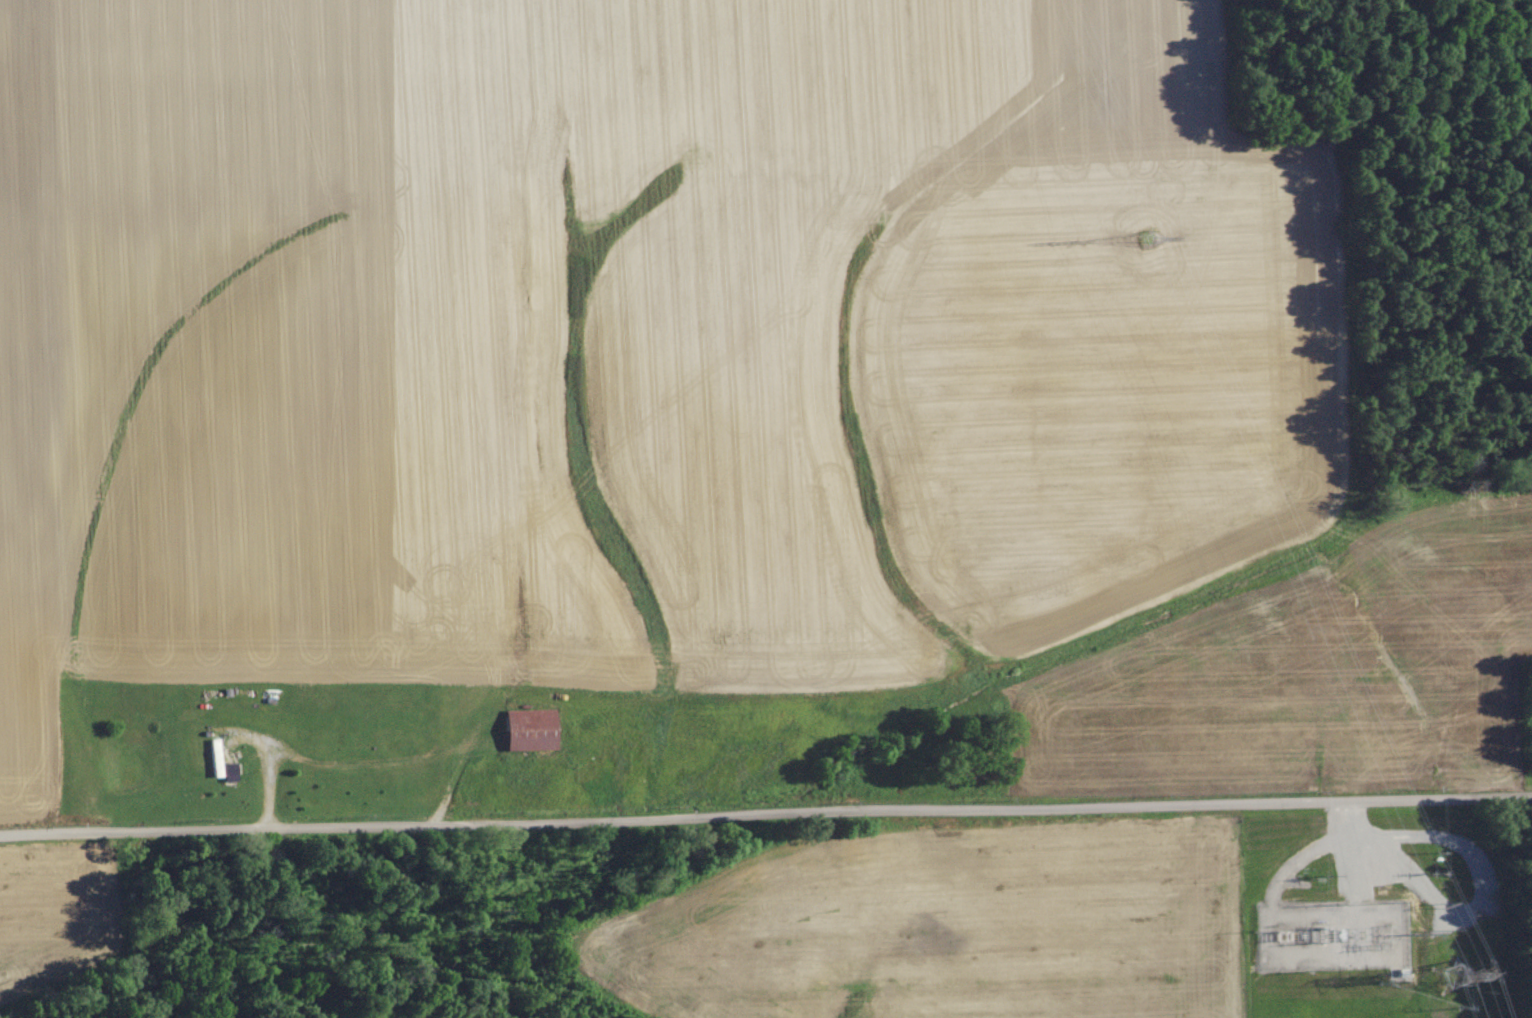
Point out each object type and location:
power tower: (1146, 239)
road: (765, 808)
power substation: (1330, 935)
power tower: (1449, 976)

